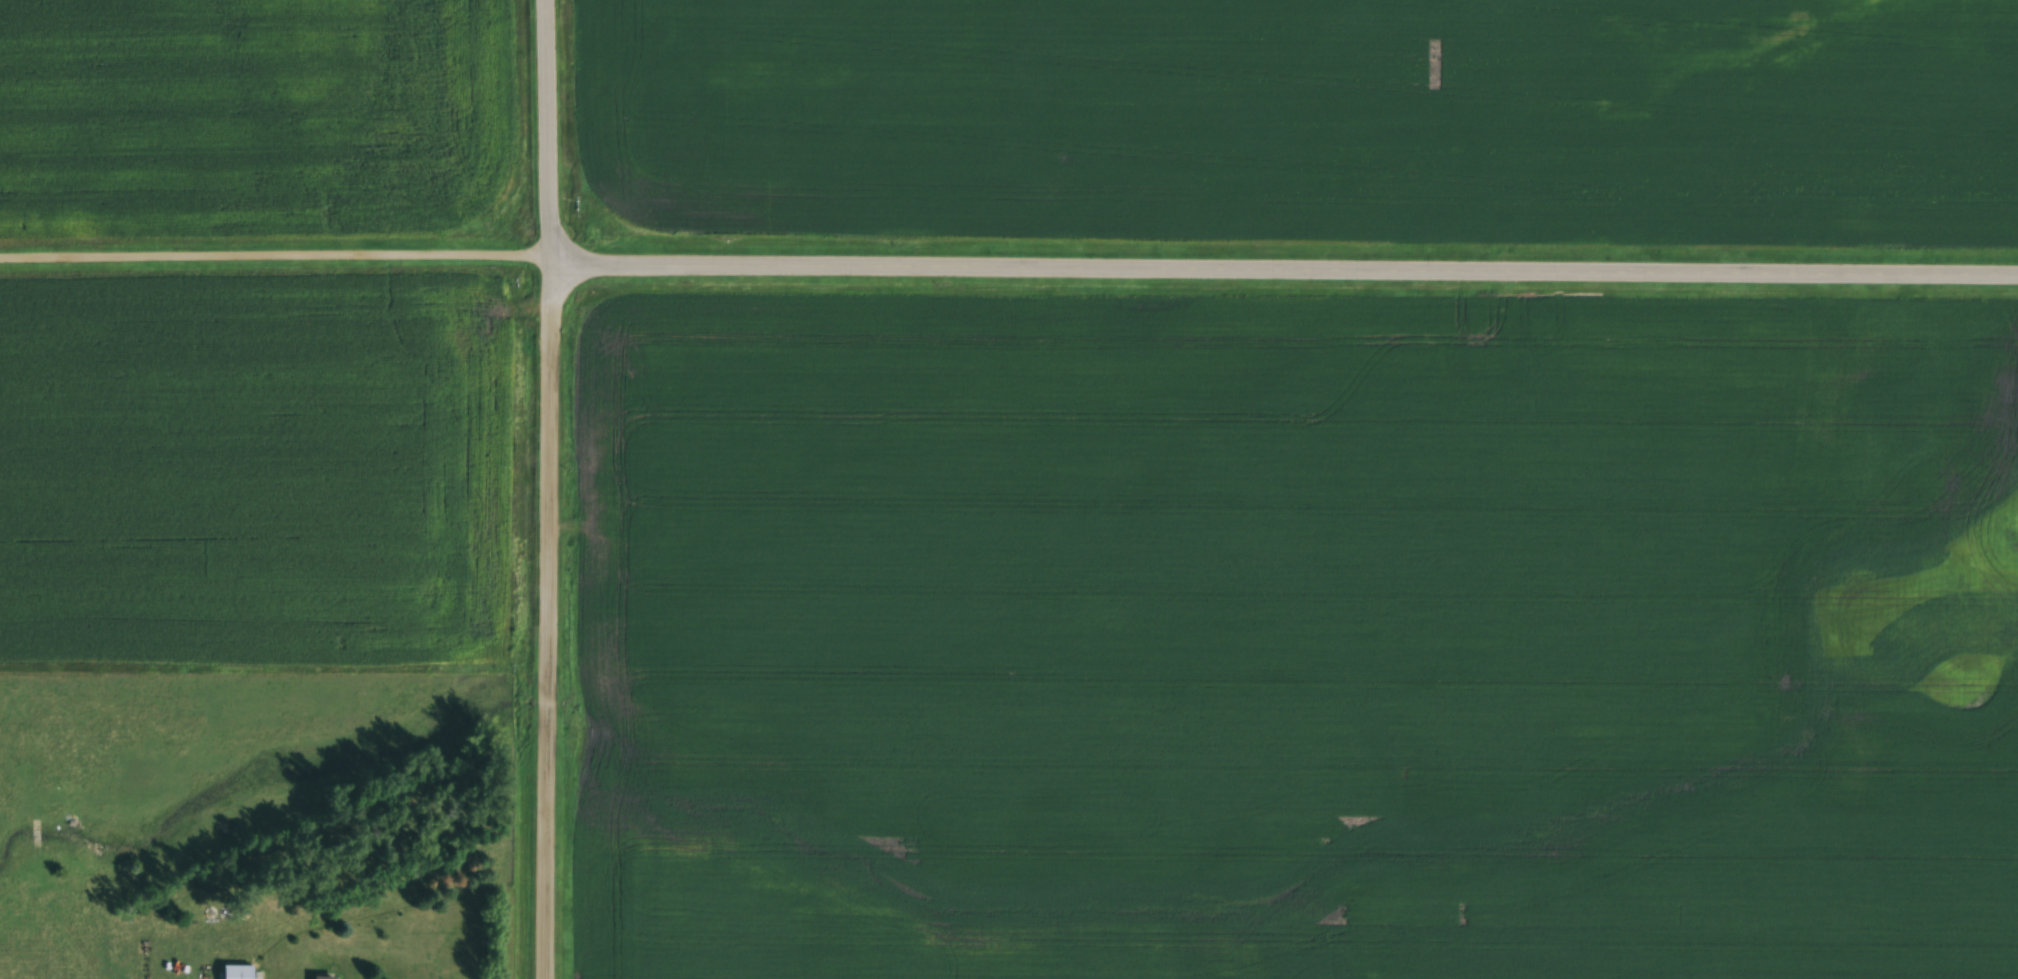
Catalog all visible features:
road: (542, 136)
road: (272, 256)
road: (1281, 279)
road: (543, 626)
building: (235, 973)
building: (316, 978)

